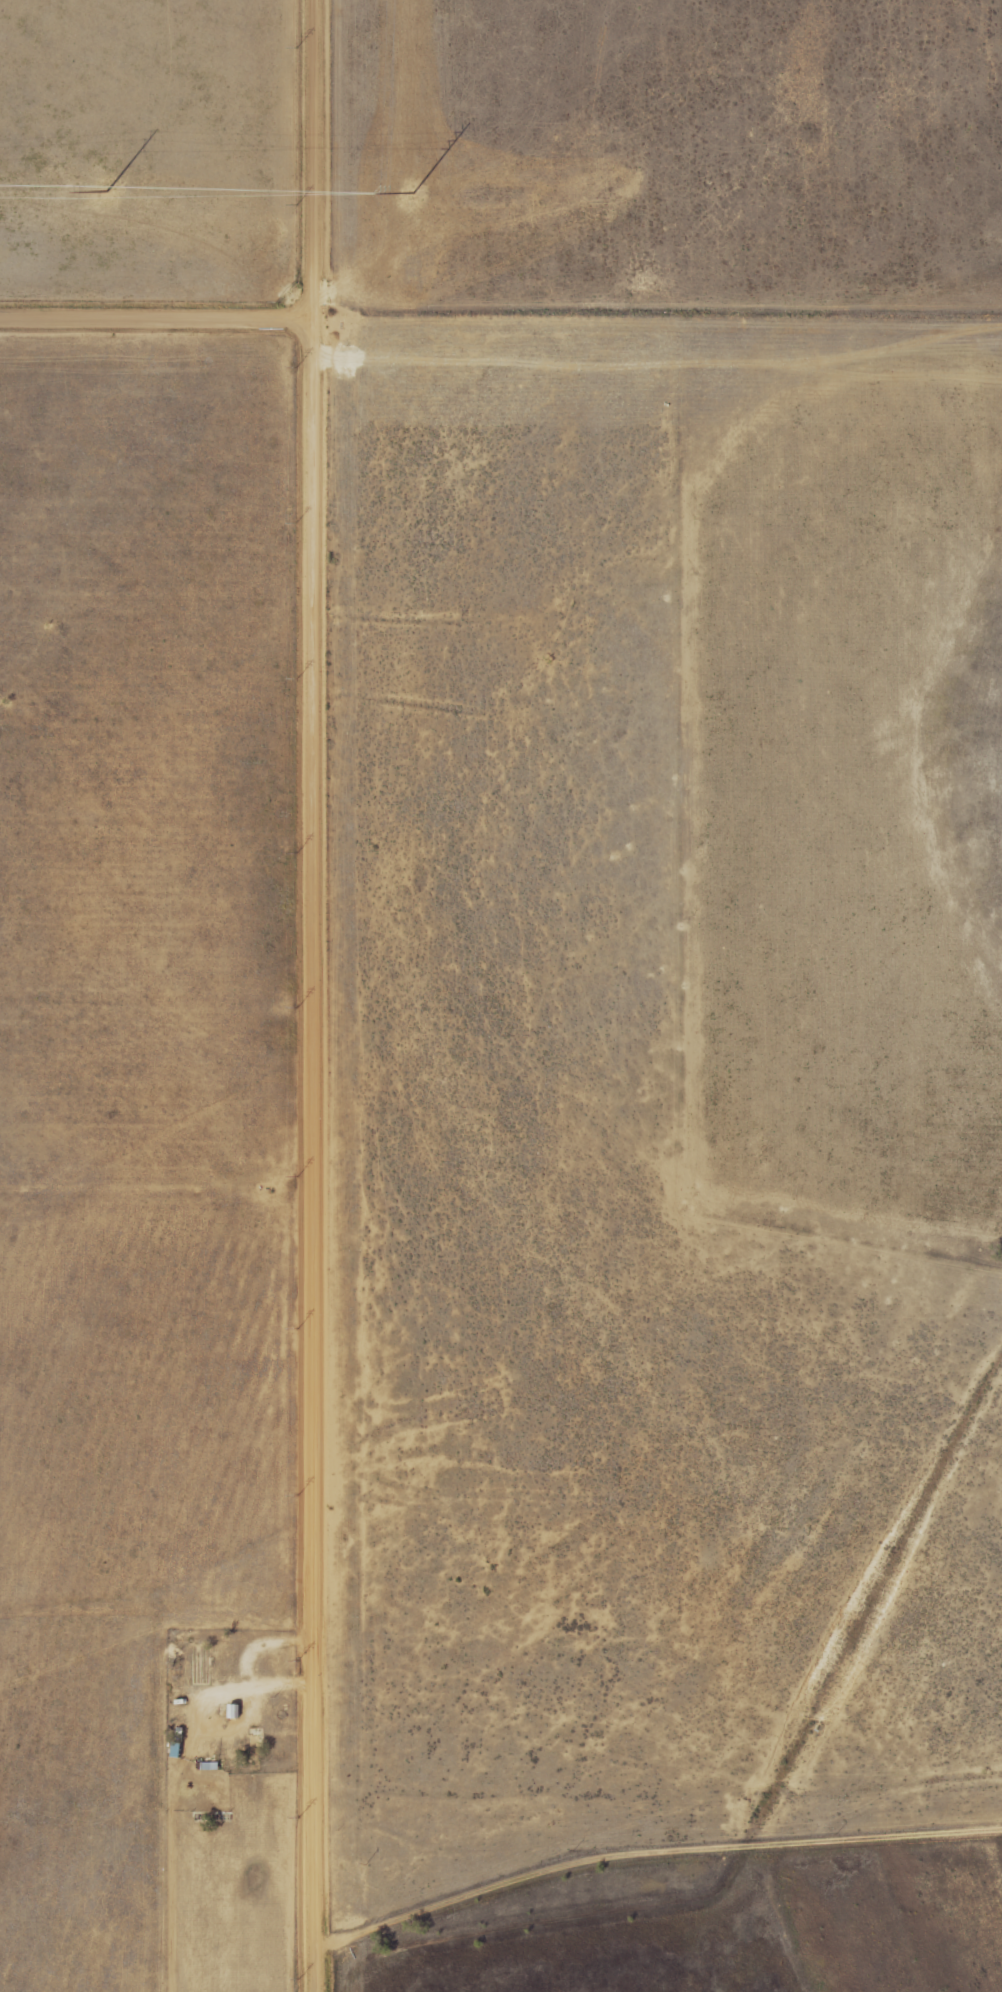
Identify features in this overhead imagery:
road: (156, 320)
road: (313, 995)
road: (651, 1861)

